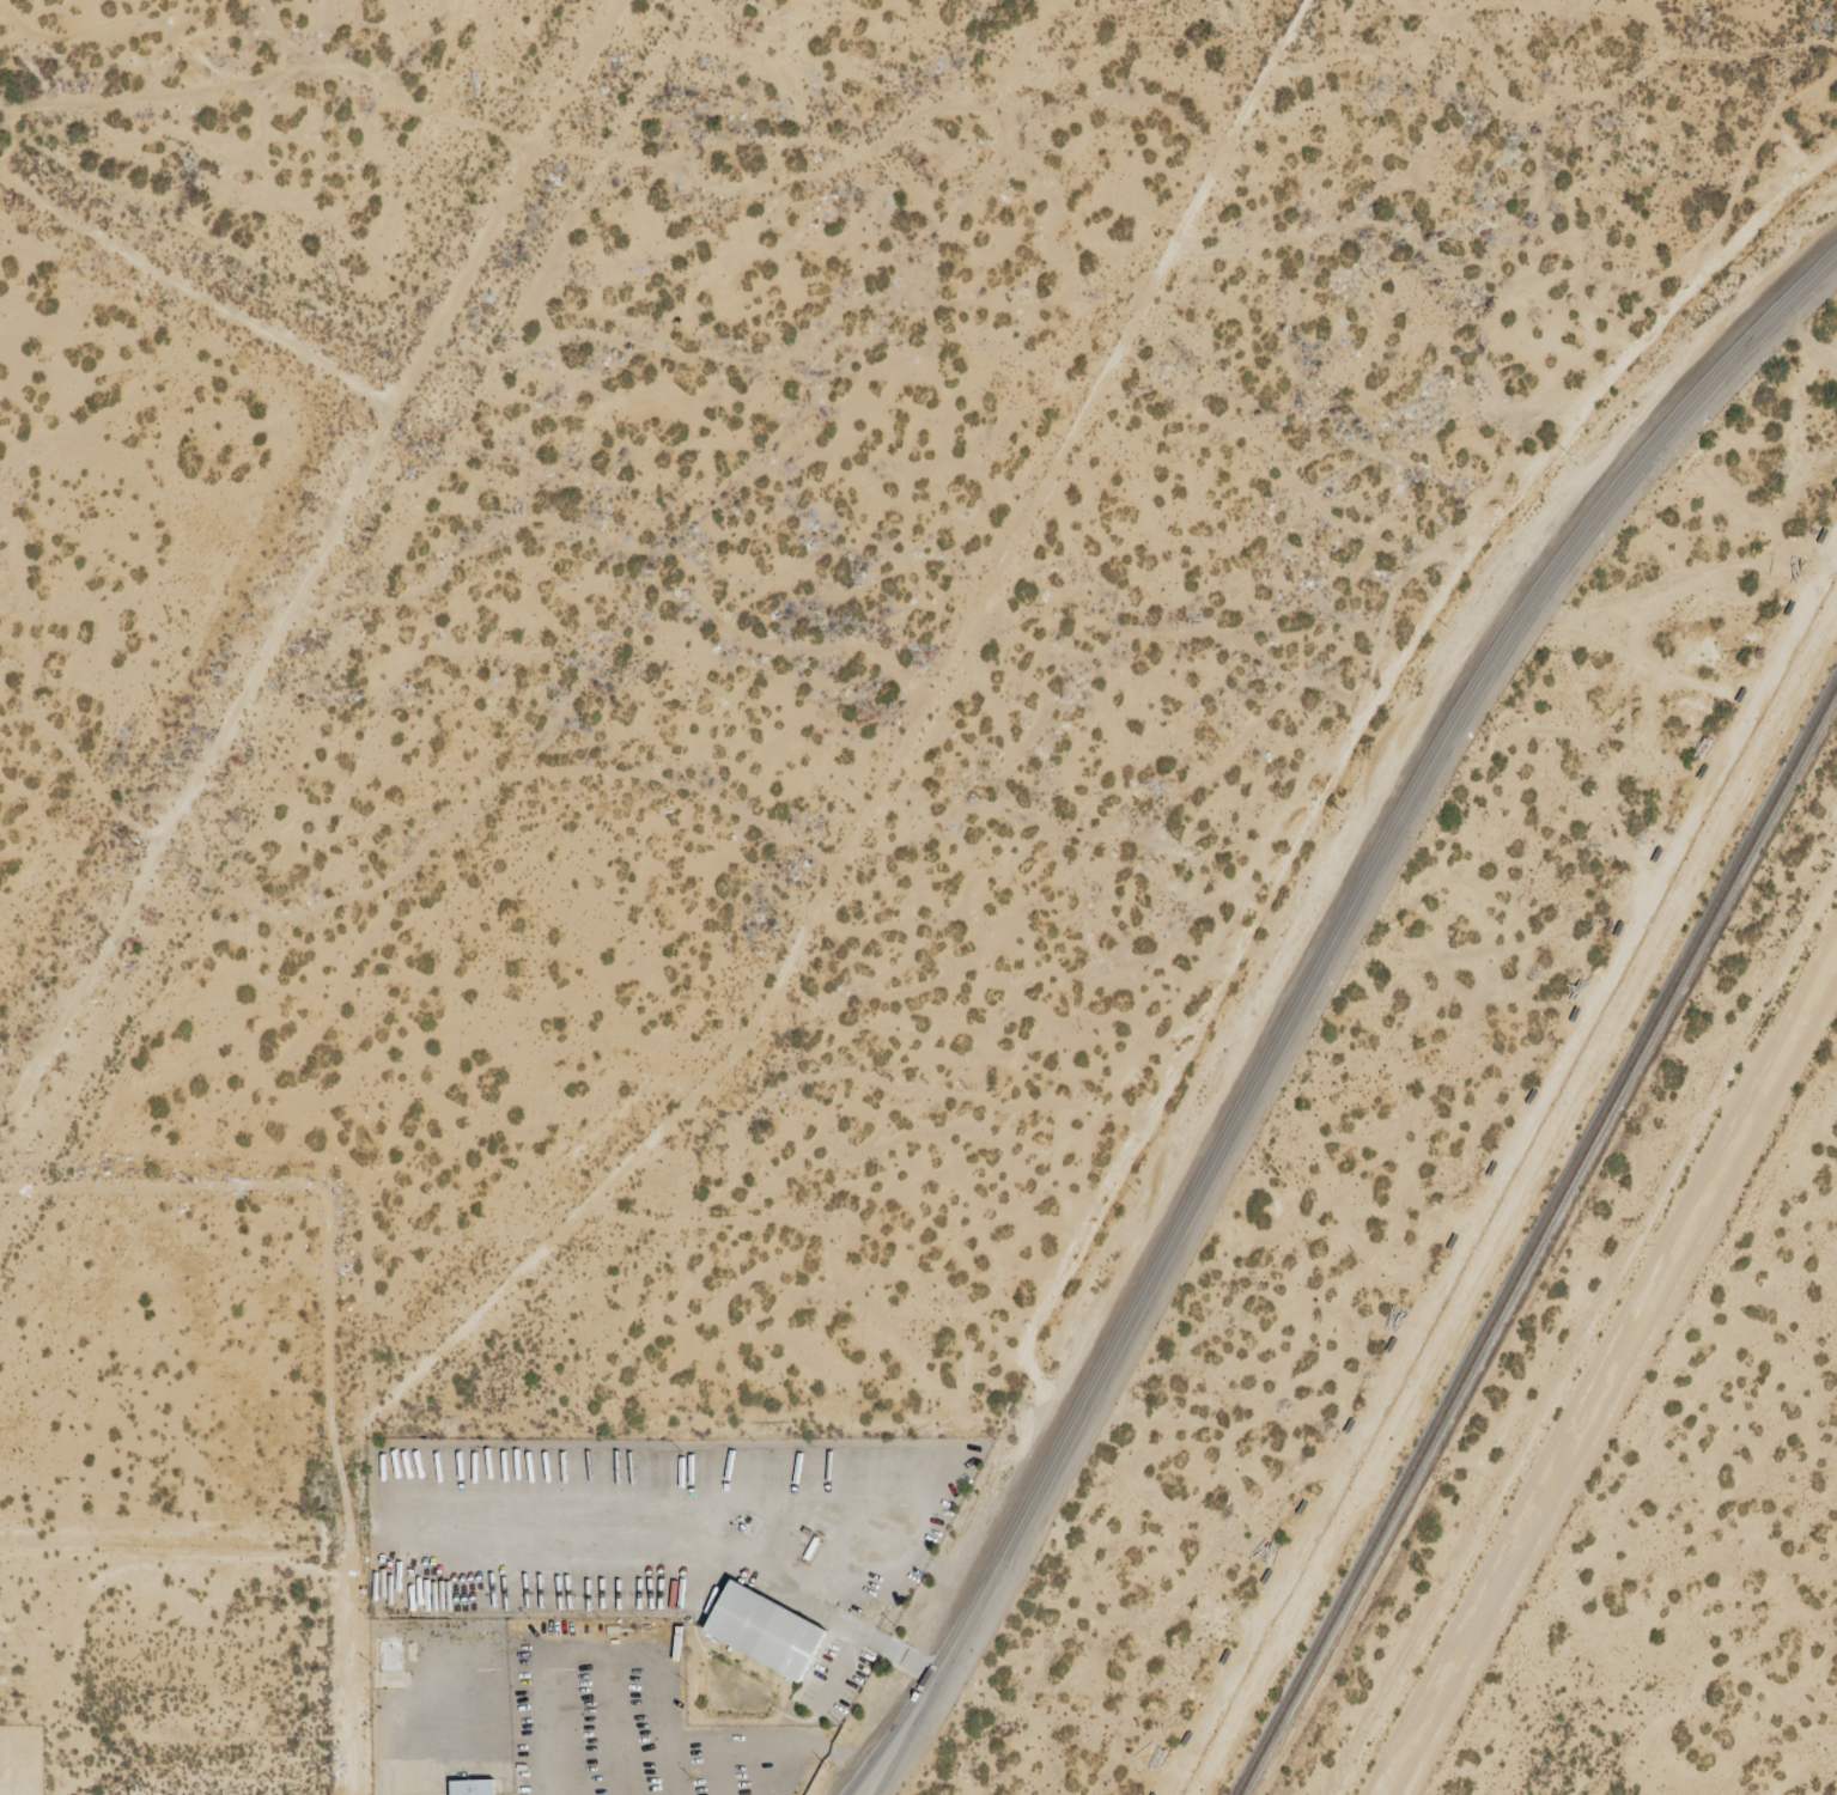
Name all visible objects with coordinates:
road: (394, 398)
road: (1325, 956)
railway: (1537, 1237)
building: (764, 1630)
road: (883, 1759)
road: (893, 1759)
building: (472, 1787)

